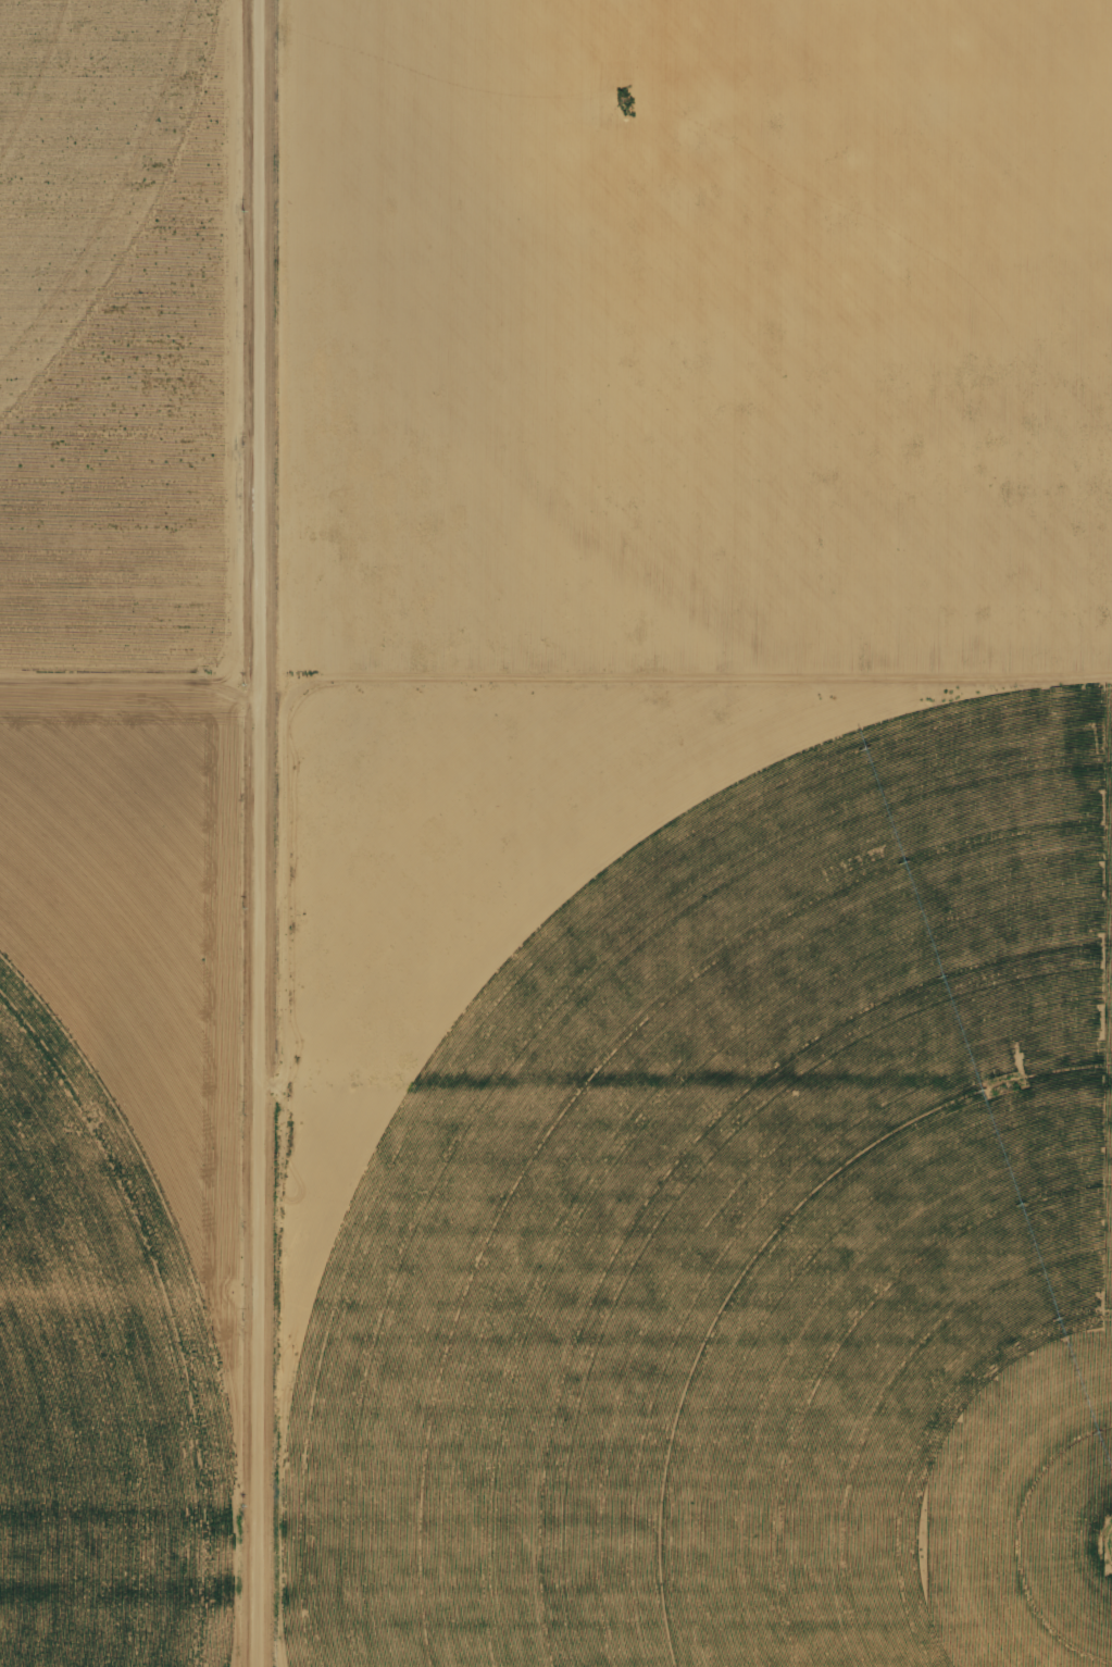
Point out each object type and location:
road: (257, 833)

